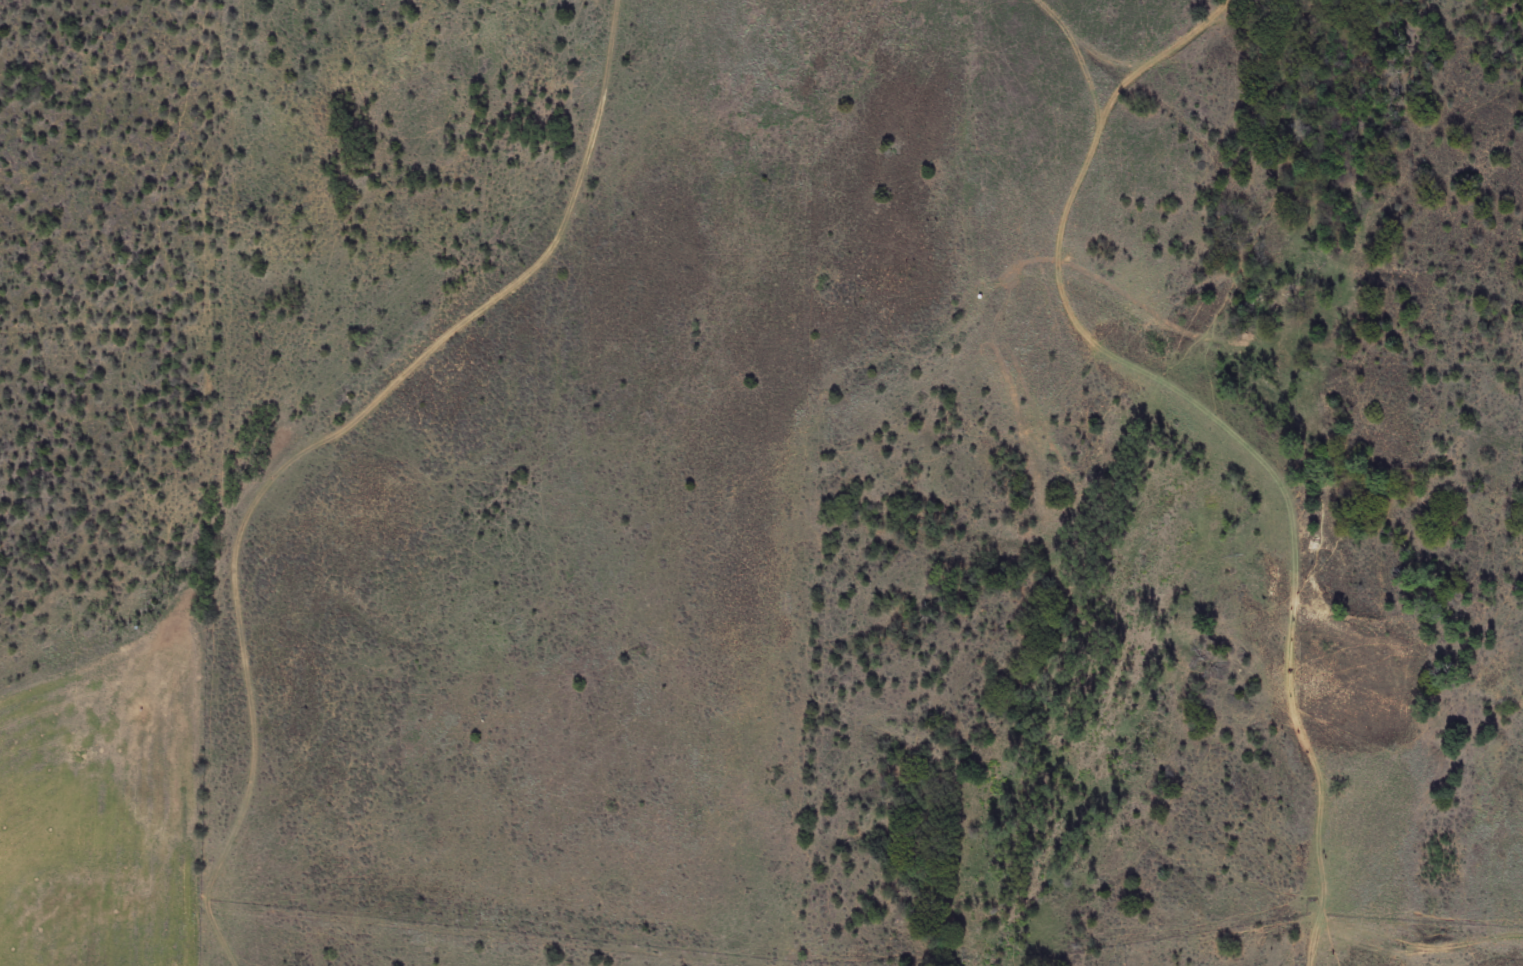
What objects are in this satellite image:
road: (1226, 480)

